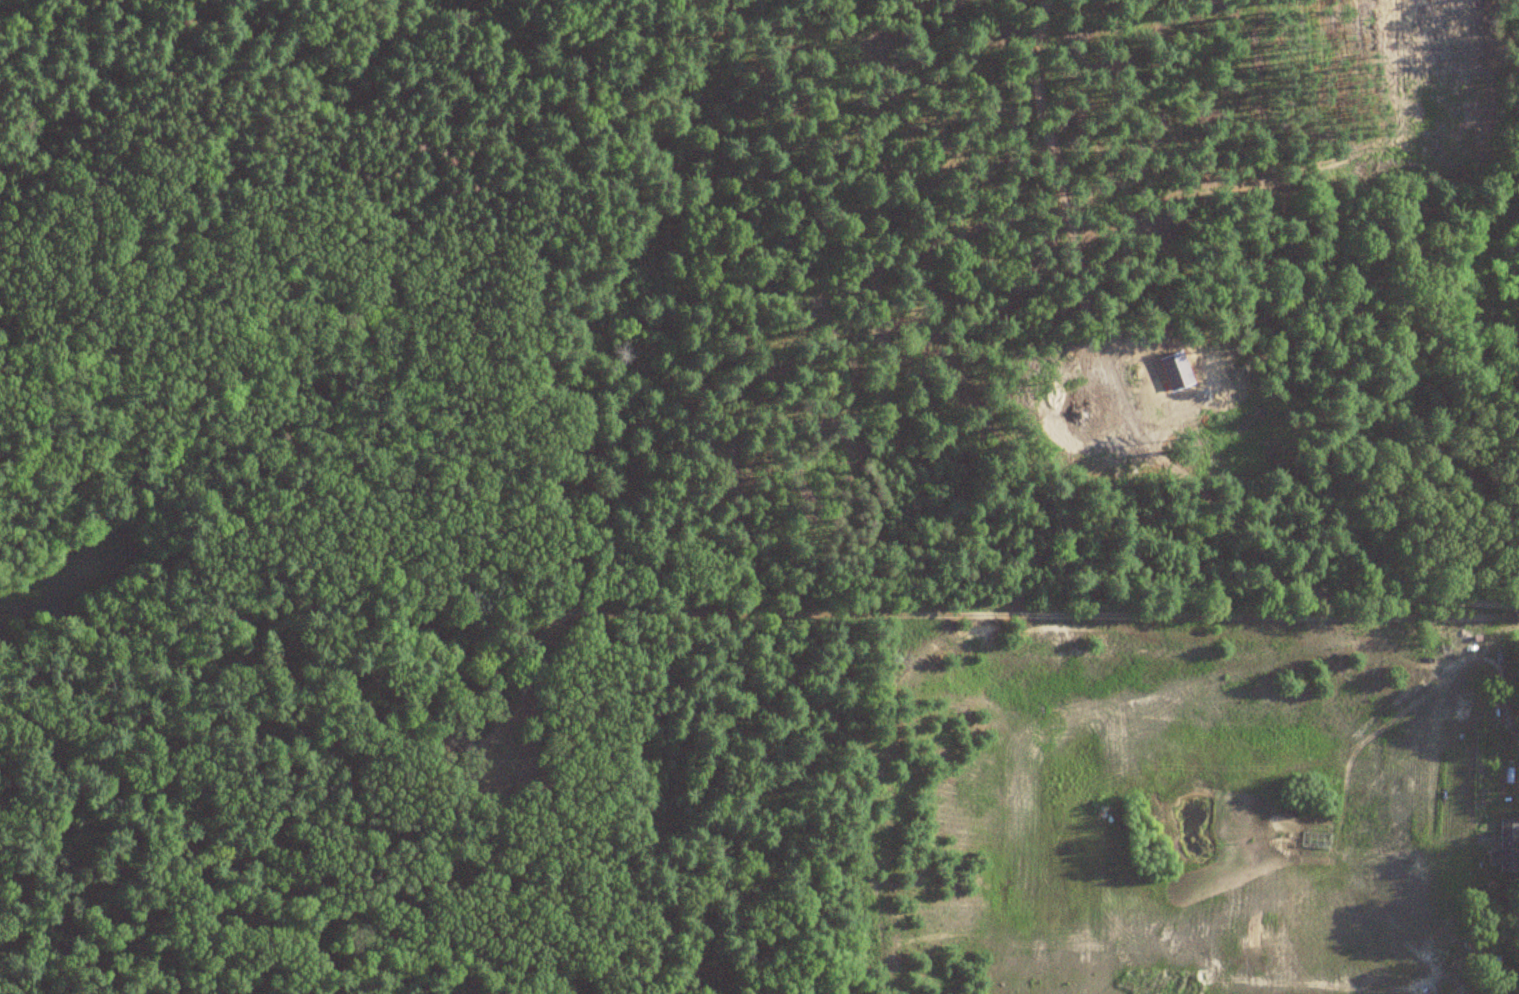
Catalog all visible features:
building: (1505, 845)

